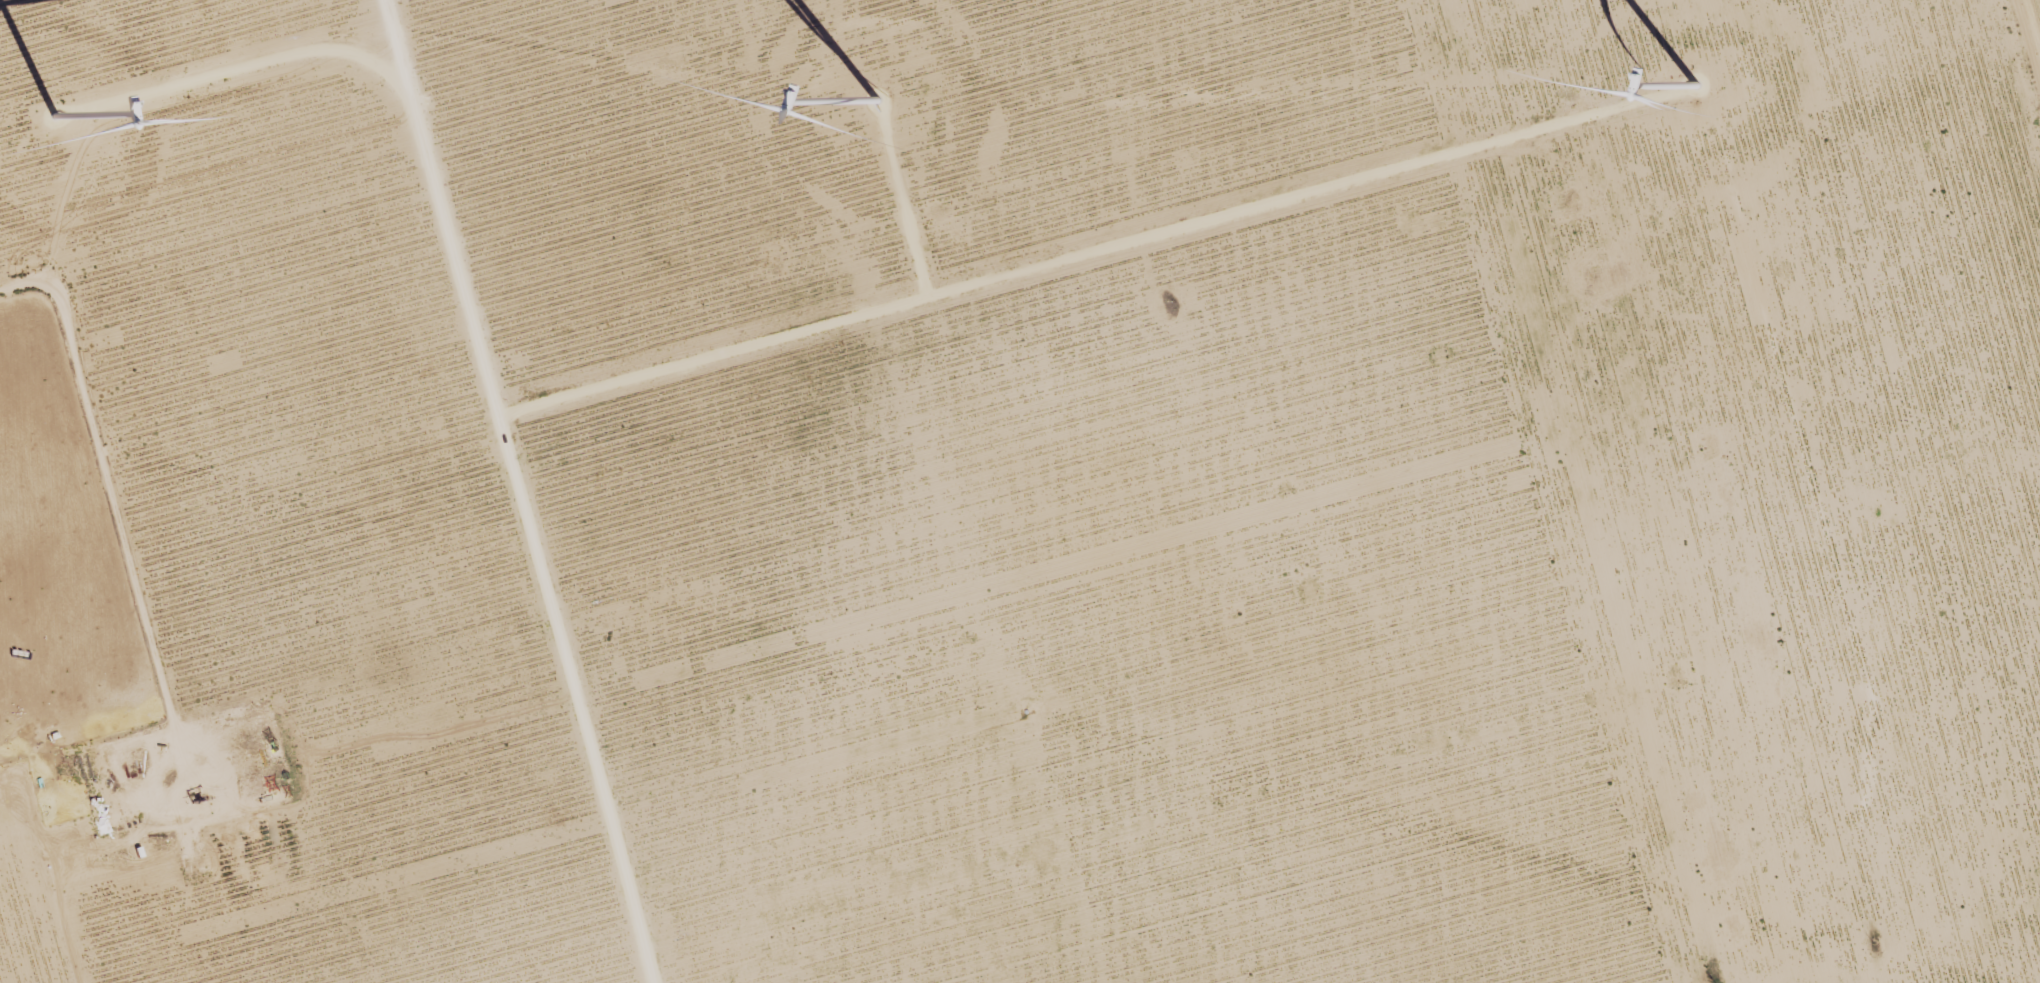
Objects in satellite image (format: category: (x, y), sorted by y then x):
wind turbine: (1699, 77)
wind turbine: (872, 105)
wind turbine: (51, 113)

